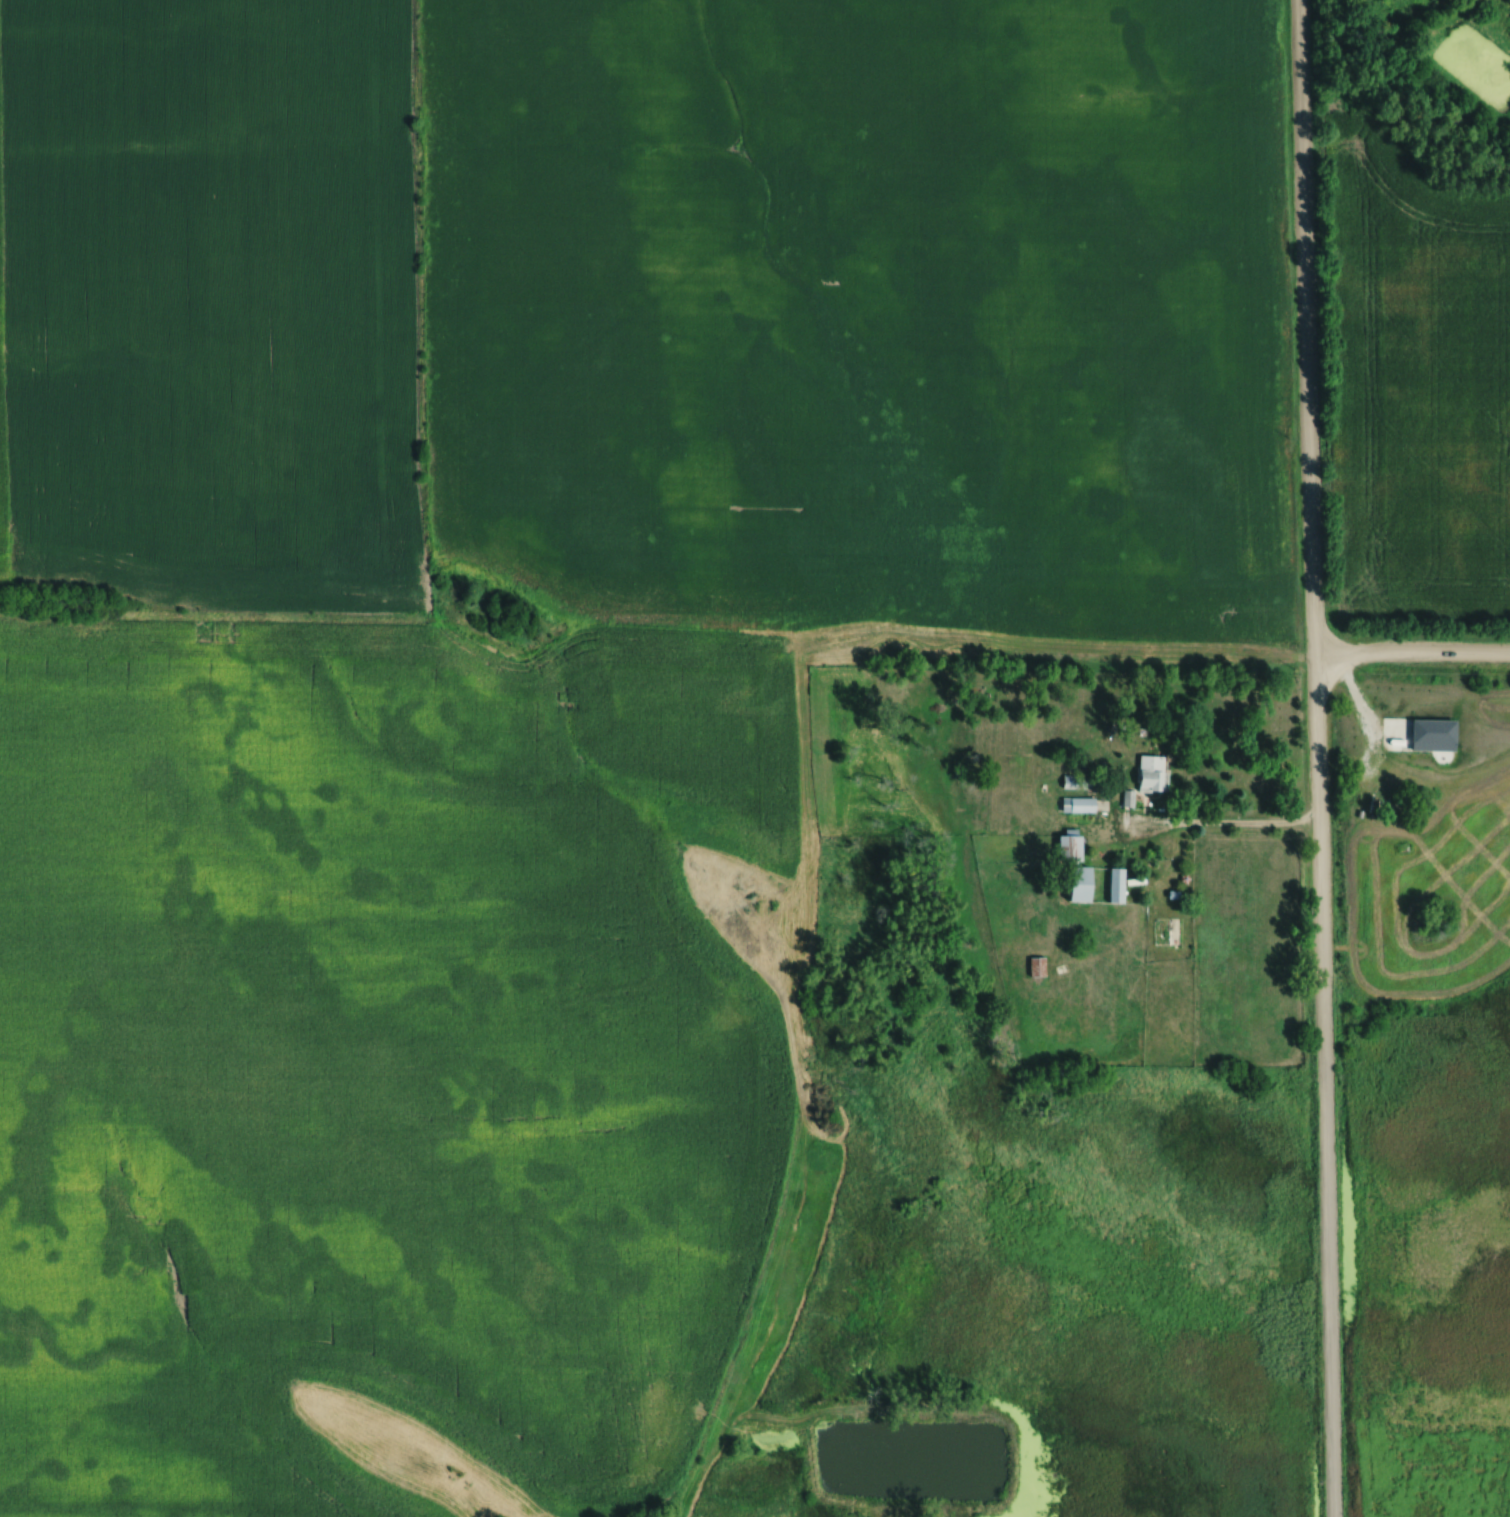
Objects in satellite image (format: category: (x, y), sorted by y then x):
road: (1413, 651)
road: (1319, 758)
building: (1155, 772)
building: (1131, 798)
building: (1082, 804)
road: (1229, 822)
building: (1074, 847)
building: (1088, 884)
building: (1121, 885)
building: (1042, 966)

